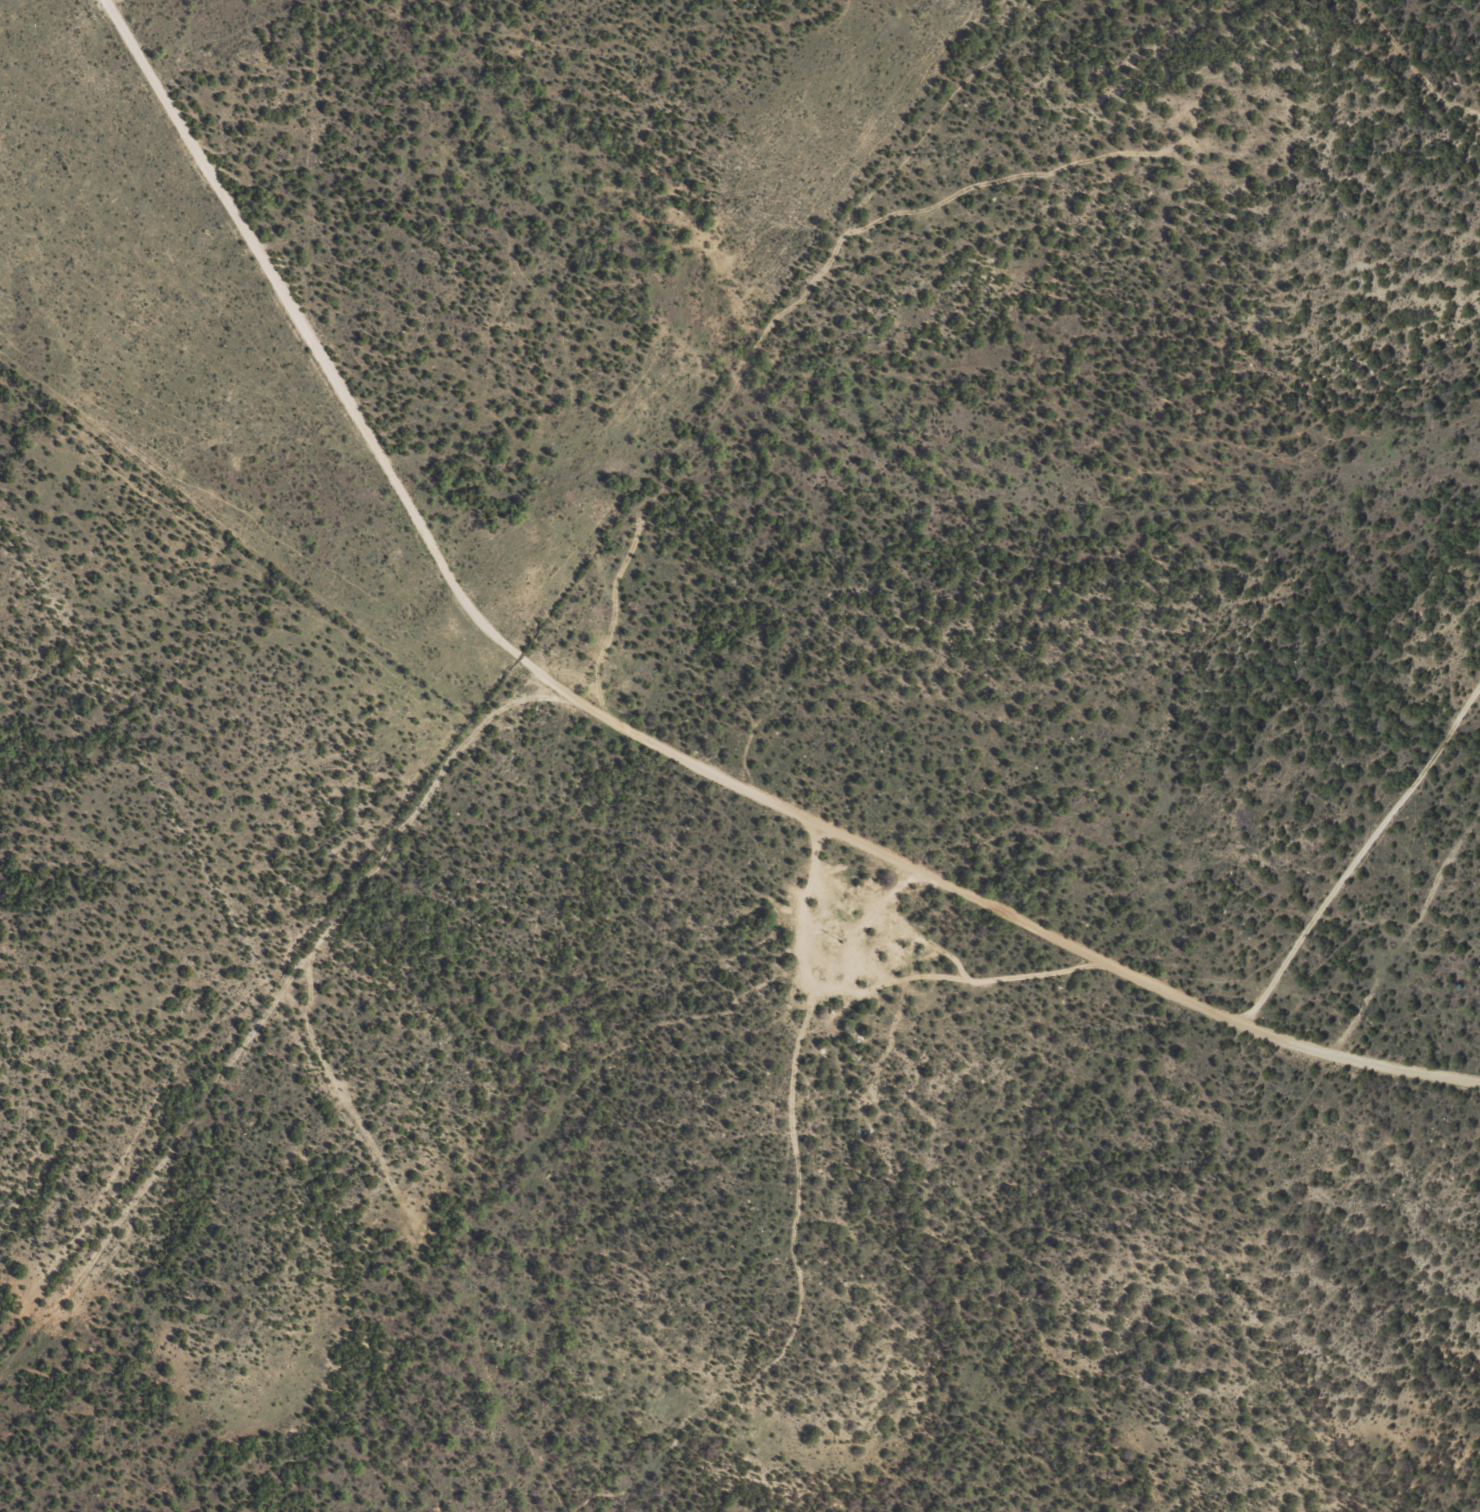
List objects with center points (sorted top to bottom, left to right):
road: (632, 757)
road: (1377, 935)
road: (281, 1084)

